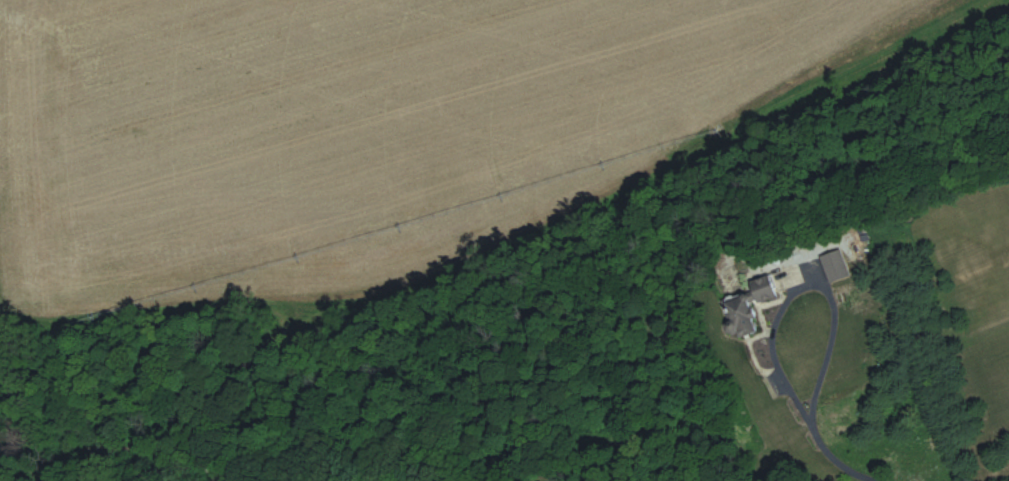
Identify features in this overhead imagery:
crop: (340, 126)
building: (835, 266)
building: (777, 282)
road: (769, 311)
building: (739, 318)
road: (879, 459)

